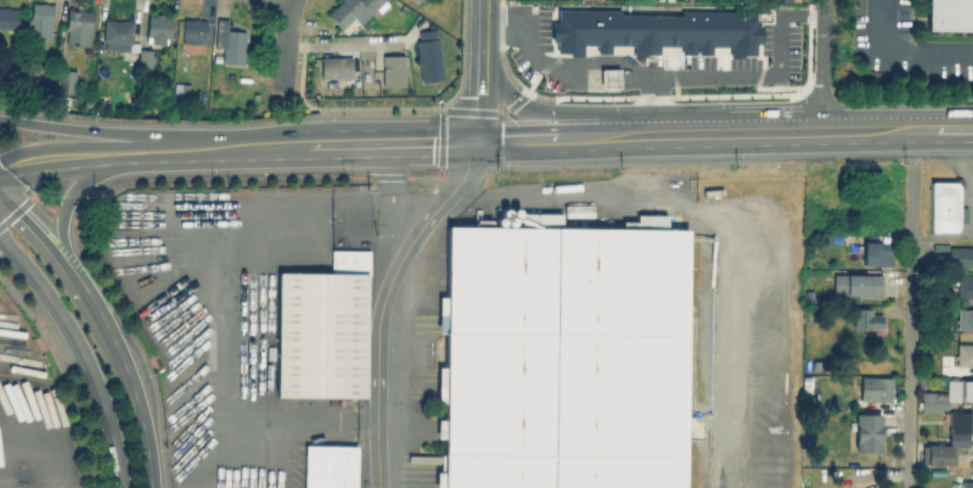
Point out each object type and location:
building: (351, 14)
building: (8, 18)
building: (948, 18)
building: (40, 25)
building: (79, 27)
building: (158, 29)
building: (193, 31)
building: (655, 31)
building: (119, 35)
road: (482, 35)
building: (229, 44)
road: (284, 45)
road: (374, 48)
road: (903, 51)
building: (146, 58)
road: (822, 60)
road: (587, 61)
building: (336, 67)
building: (393, 70)
building: (32, 71)
building: (48, 75)
road: (768, 75)
building: (227, 77)
building: (608, 78)
building: (65, 82)
building: (181, 90)
building: (221, 92)
road: (290, 93)
building: (63, 99)
building: (87, 101)
road: (480, 108)
road: (358, 112)
road: (549, 115)
road: (896, 118)
road: (738, 120)
road: (644, 122)
road: (552, 130)
road: (86, 133)
road: (954, 143)
traffic signals: (475, 144)
road: (425, 145)
road: (339, 146)
road: (703, 147)
road: (236, 148)
road: (144, 150)
road: (56, 158)
road: (392, 195)
road: (547, 195)
road: (445, 197)
building: (944, 206)
road: (62, 214)
building: (940, 245)
road: (45, 246)
building: (875, 250)
building: (955, 256)
building: (856, 282)
building: (965, 284)
road: (909, 305)
road: (225, 314)
building: (866, 317)
building: (965, 318)
building: (324, 336)
road: (82, 352)
building: (965, 353)
building: (564, 360)
railway: (684, 361)
road: (376, 363)
building: (922, 380)
building: (805, 383)
road: (132, 386)
building: (876, 387)
building: (947, 393)
building: (868, 429)
building: (949, 437)
building: (331, 467)
road: (907, 478)
building: (967, 483)
building: (807, 487)

